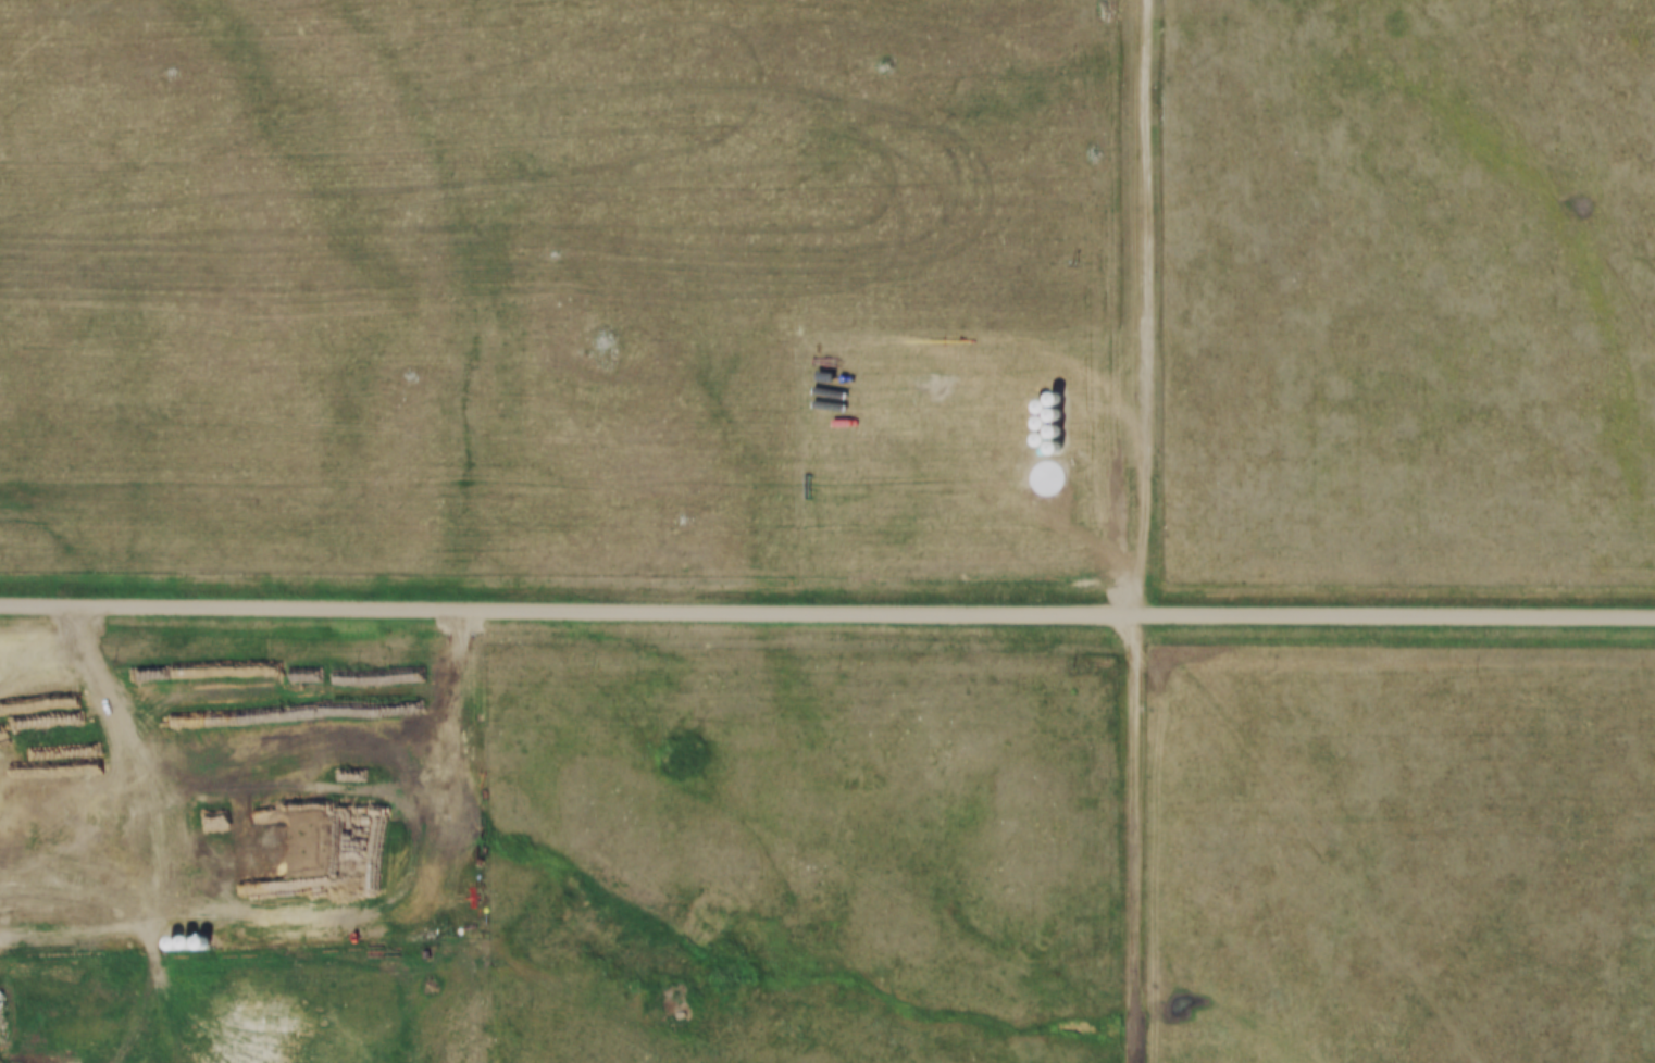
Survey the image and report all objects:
road: (1144, 530)
road: (826, 611)

